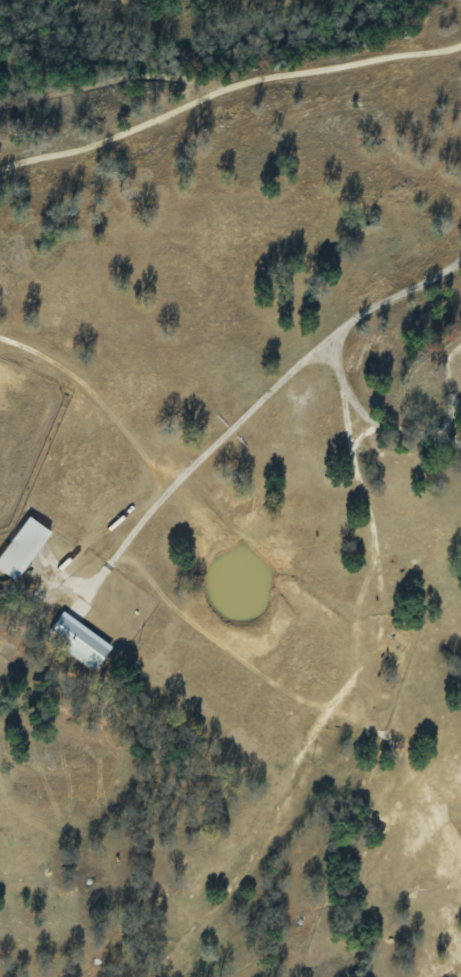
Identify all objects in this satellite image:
road: (362, 410)
building: (20, 547)
building: (78, 642)

